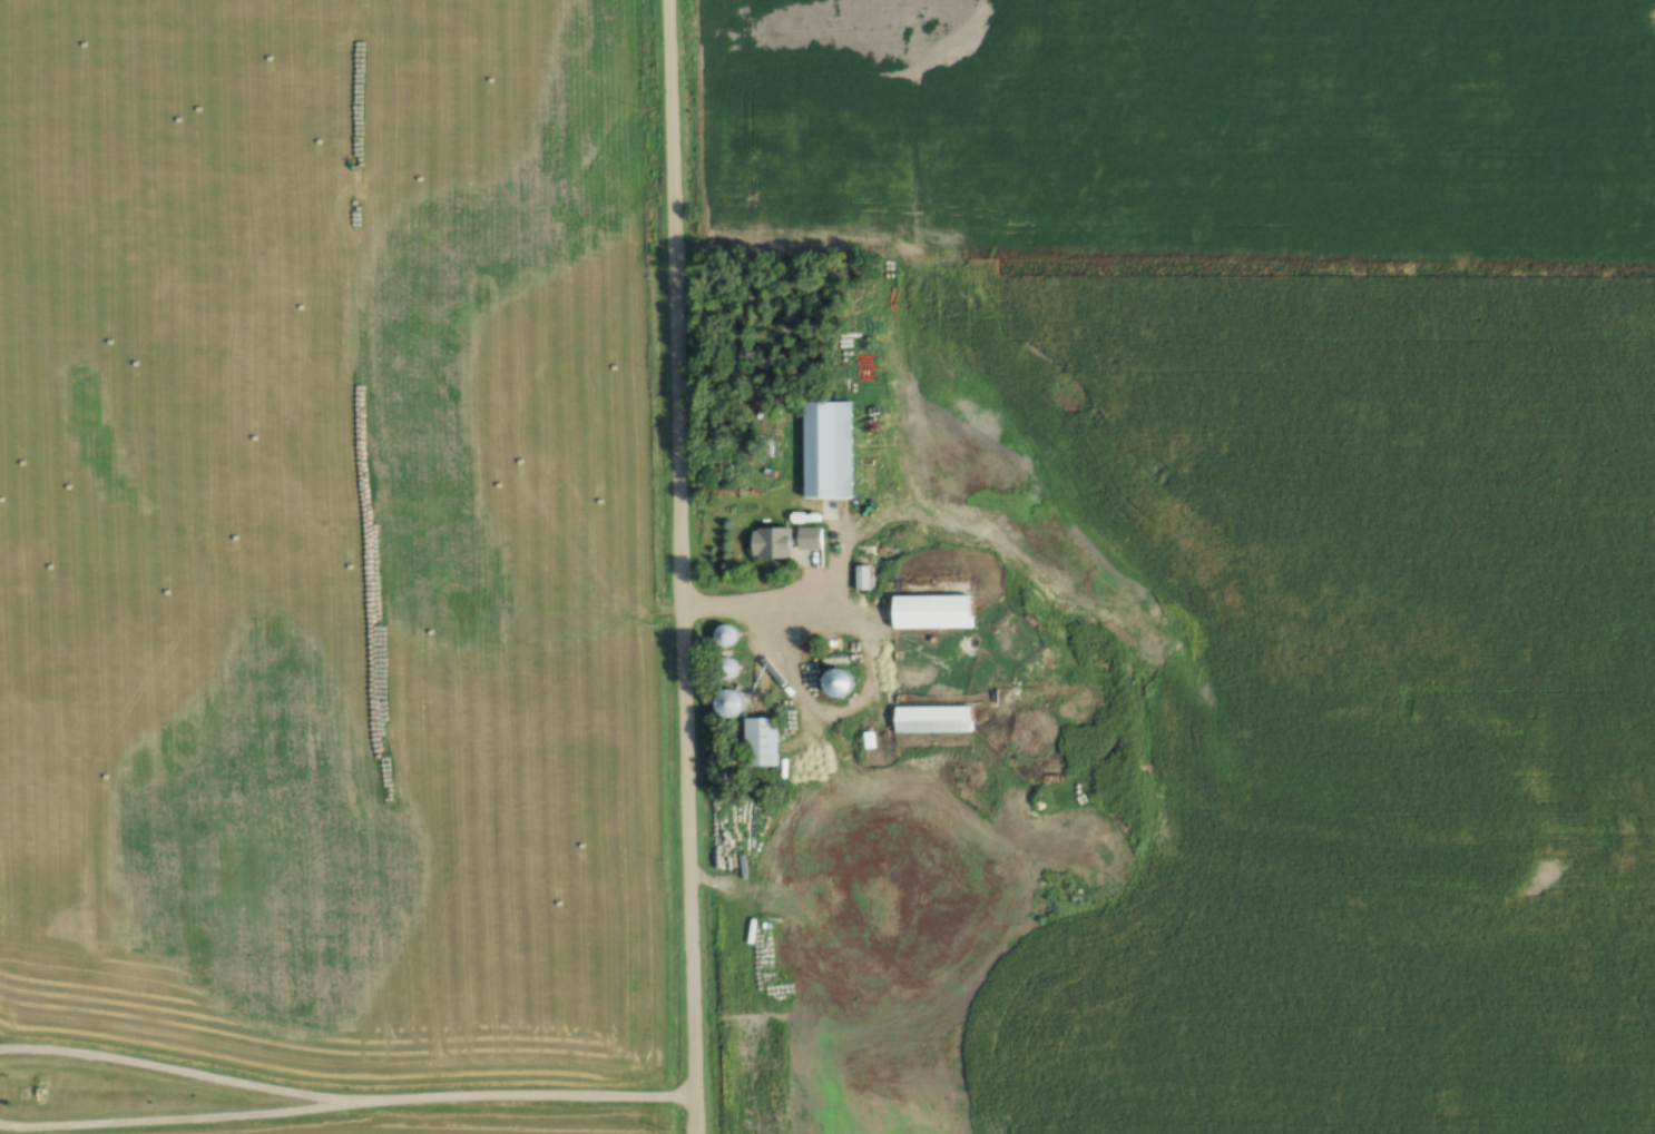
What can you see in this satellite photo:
building: (832, 447)
building: (812, 538)
building: (774, 542)
road: (683, 566)
building: (864, 576)
road: (757, 598)
building: (937, 611)
building: (728, 635)
building: (735, 703)
building: (937, 719)
building: (763, 741)
building: (1058, 743)
road: (167, 1068)
road: (516, 1097)
road: (167, 1117)

